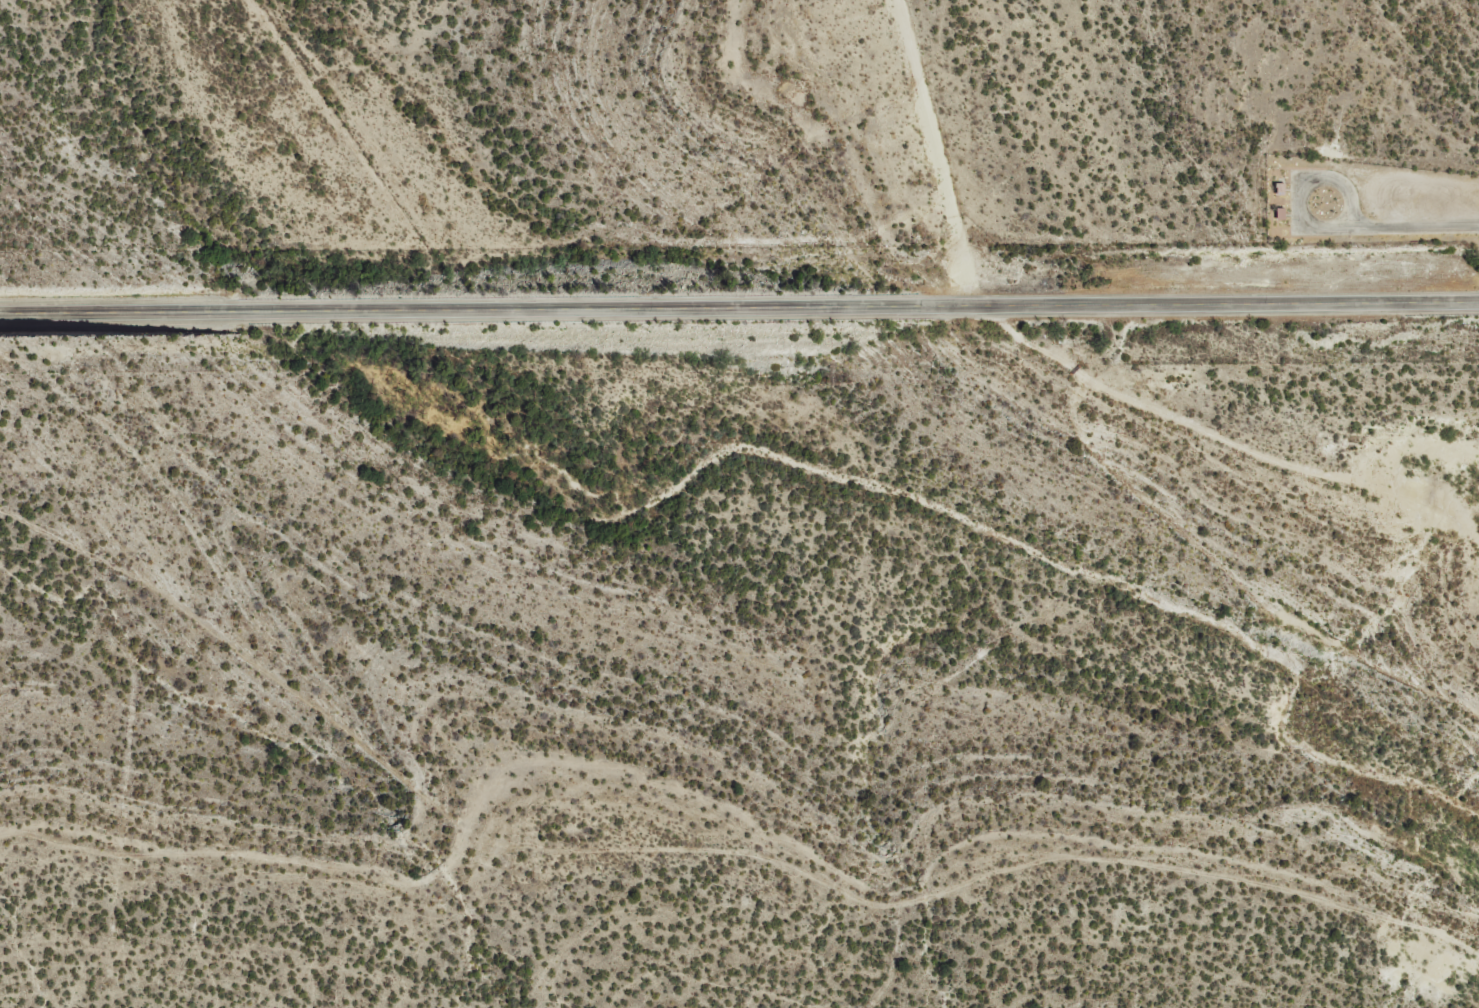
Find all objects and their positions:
road: (1307, 185)
building: (1276, 189)
building: (1274, 213)
road: (1415, 227)
road: (739, 307)
road: (1253, 443)

